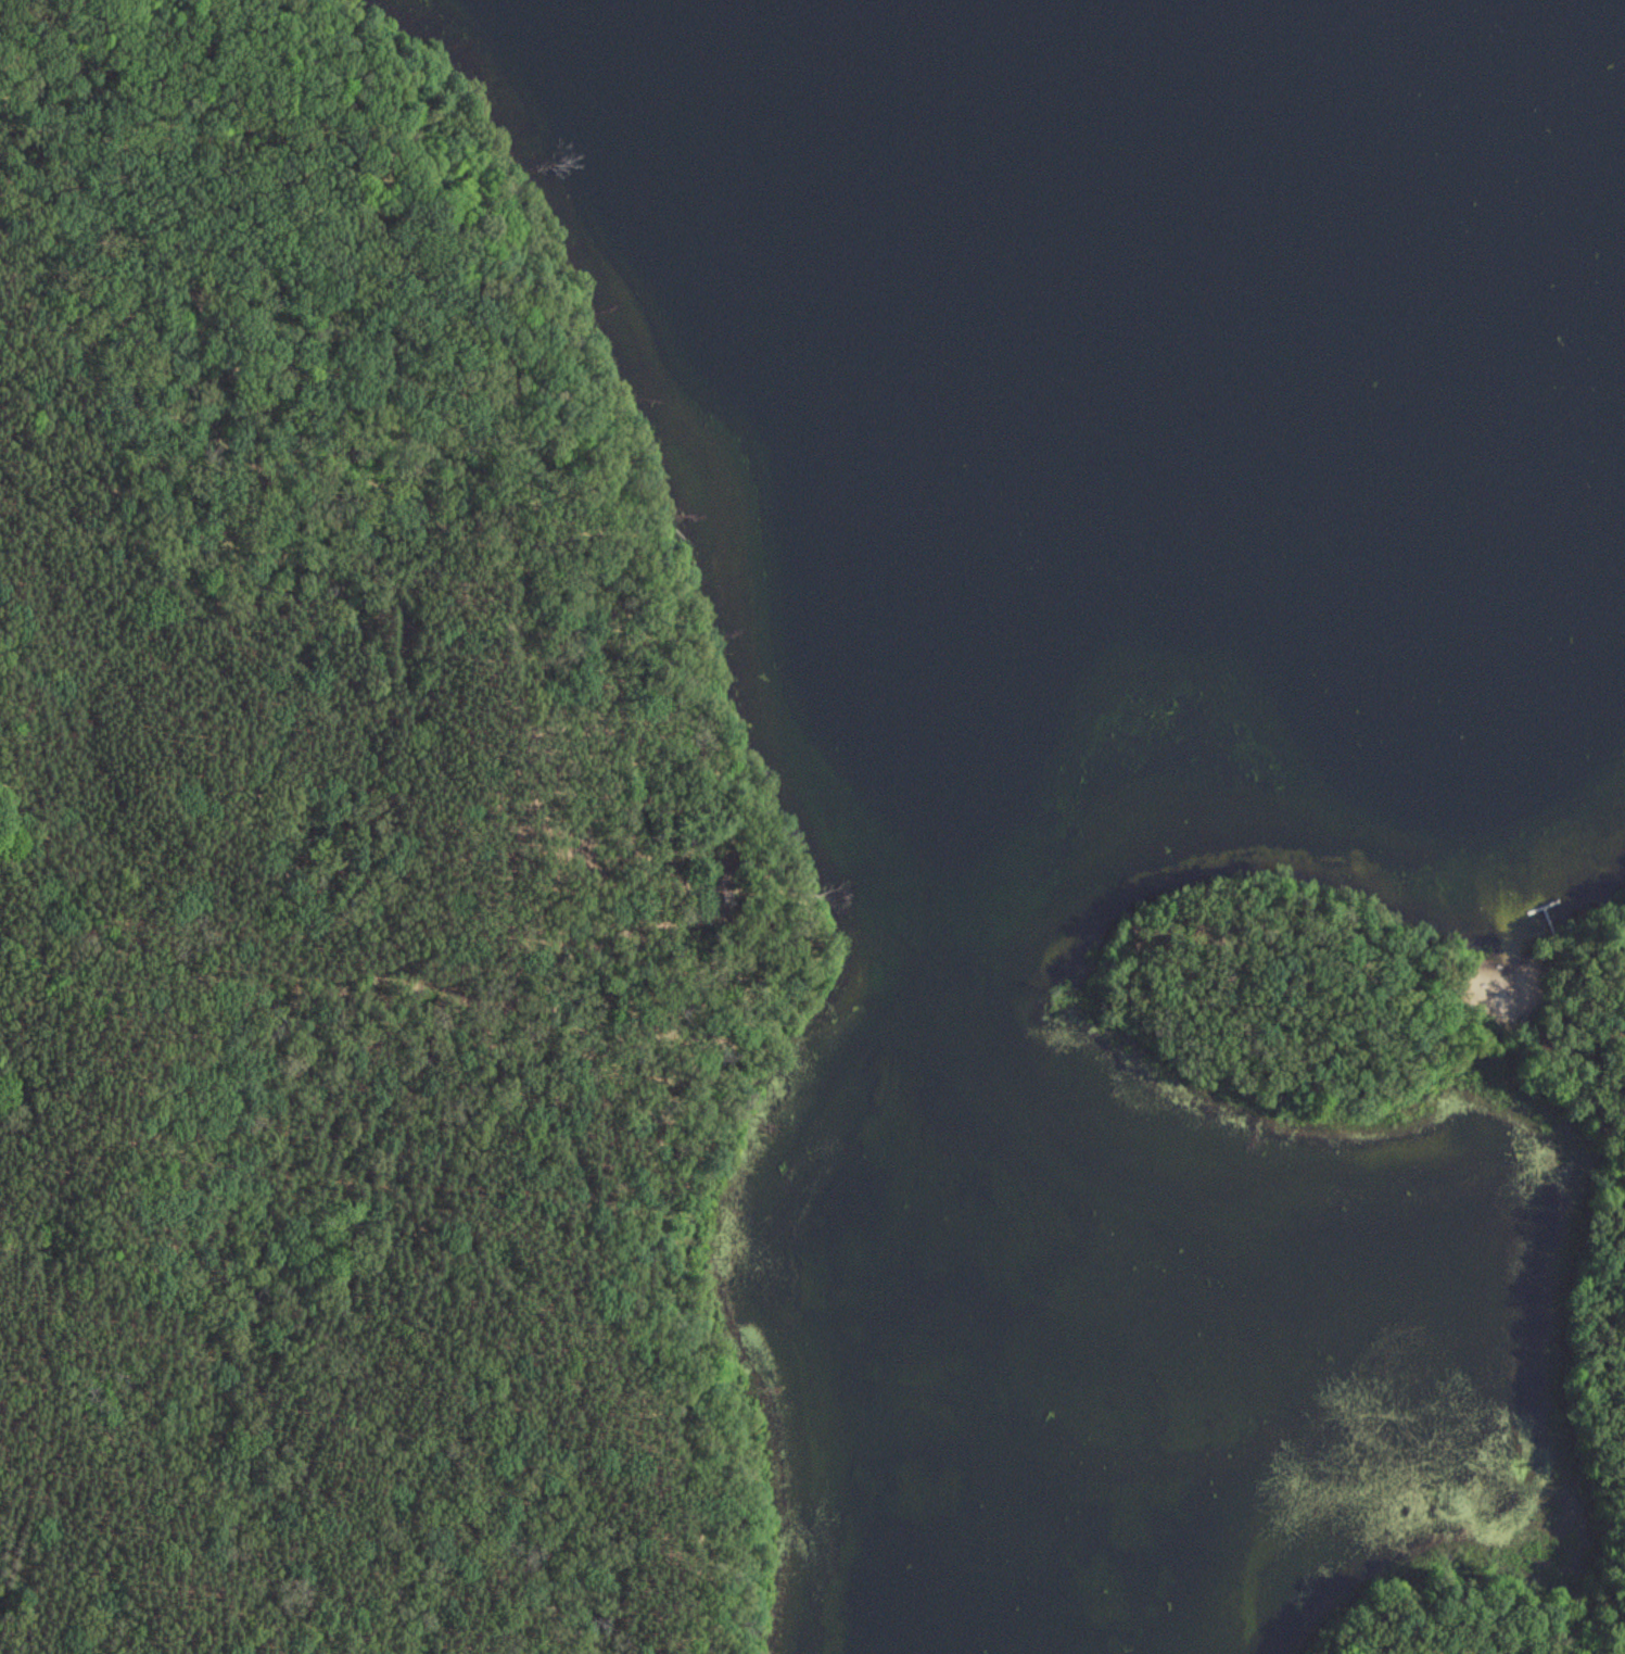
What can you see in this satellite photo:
road: (506, 793)
road: (1595, 1640)

